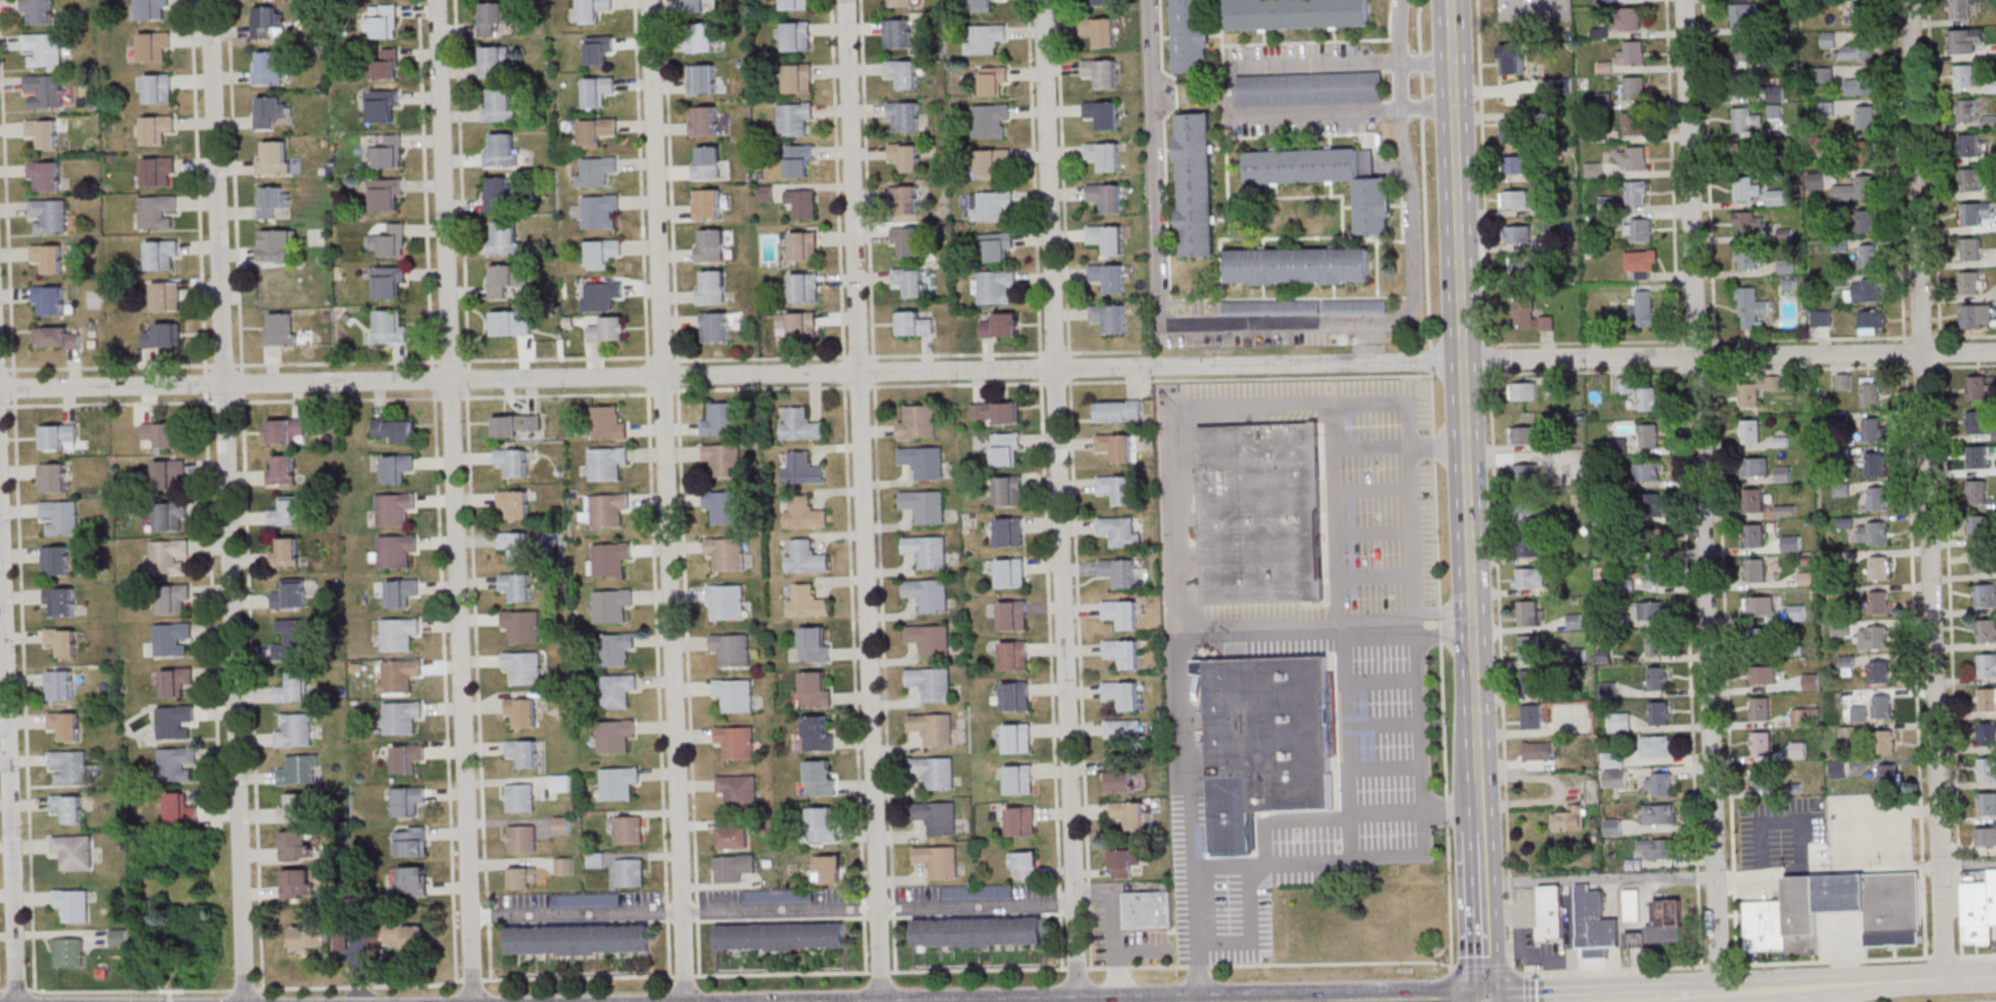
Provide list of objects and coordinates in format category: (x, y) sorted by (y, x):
building: (1103, 2)
building: (902, 3)
building: (795, 4)
building: (983, 5)
building: (696, 6)
building: (152, 9)
building: (1959, 9)
building: (593, 10)
building: (38, 11)
road: (1533, 11)
building: (1296, 13)
building: (1743, 14)
building: (1861, 14)
building: (493, 17)
building: (1630, 19)
building: (267, 22)
building: (382, 22)
road: (1402, 30)
building: (1099, 31)
building: (897, 33)
building: (1191, 35)
building: (797, 36)
building: (701, 37)
building: (985, 39)
building: (1965, 42)
building: (154, 46)
building: (43, 48)
building: (599, 49)
building: (1745, 49)
building: (1859, 51)
building: (1632, 53)
building: (1513, 59)
building: (494, 60)
road: (1426, 61)
building: (385, 64)
building: (269, 67)
building: (1101, 72)
building: (903, 73)
building: (1823, 76)
building: (1964, 77)
building: (702, 78)
building: (798, 78)
building: (990, 81)
road: (1402, 84)
building: (1746, 84)
building: (1861, 85)
building: (158, 88)
road: (1229, 88)
building: (1310, 88)
building: (1634, 89)
building: (44, 91)
building: (598, 91)
road: (1427, 104)
building: (500, 105)
building: (382, 106)
building: (1967, 111)
building: (271, 112)
building: (1102, 114)
building: (902, 116)
building: (1865, 118)
building: (794, 119)
building: (1747, 119)
building: (704, 120)
building: (991, 120)
building: (1634, 123)
building: (156, 128)
building: (1509, 131)
building: (43, 132)
building: (596, 132)
building: (1970, 145)
building: (501, 149)
building: (387, 152)
building: (1746, 152)
building: (1867, 153)
building: (1104, 155)
building: (905, 156)
building: (274, 158)
building: (1633, 158)
building: (799, 160)
building: (708, 162)
building: (991, 162)
building: (1519, 164)
building: (1594, 169)
road: (1483, 170)
building: (159, 171)
building: (596, 171)
building: (45, 175)
building: (1330, 178)
building: (1975, 178)
building: (1817, 181)
building: (1197, 184)
building: (1857, 189)
building: (1747, 190)
building: (1637, 192)
building: (499, 193)
building: (384, 194)
building: (1106, 197)
building: (1515, 199)
building: (1780, 199)
building: (272, 200)
building: (903, 200)
building: (707, 203)
building: (801, 203)
building: (990, 205)
building: (599, 211)
building: (157, 212)
building: (1975, 212)
building: (1834, 213)
building: (48, 215)
building: (1866, 222)
building: (1749, 224)
building: (1639, 230)
building: (1517, 235)
building: (504, 237)
building: (1106, 239)
building: (389, 241)
building: (905, 241)
building: (276, 245)
building: (709, 245)
building: (997, 245)
building: (803, 246)
building: (1840, 246)
building: (1970, 249)
building: (602, 253)
building: (162, 255)
building: (1869, 256)
building: (49, 257)
building: (1746, 260)
building: (1642, 262)
building: (1298, 265)
building: (1520, 265)
building: (1786, 267)
building: (1108, 277)
building: (504, 279)
building: (909, 281)
building: (388, 282)
building: (1970, 283)
building: (996, 286)
building: (711, 287)
building: (804, 287)
building: (1865, 291)
building: (600, 295)
building: (166, 296)
building: (48, 300)
building: (1204, 307)
building: (1356, 307)
building: (1643, 307)
building: (1271, 308)
building: (1751, 309)
building: (1528, 313)
building: (1977, 316)
building: (1109, 317)
building: (1822, 317)
building: (1871, 319)
building: (914, 322)
building: (508, 324)
building: (798, 324)
building: (1001, 325)
building: (389, 326)
building: (714, 326)
road: (1227, 327)
building: (281, 329)
building: (608, 329)
building: (162, 335)
building: (57, 337)
road: (1742, 340)
road: (1489, 354)
road: (1730, 355)
road: (1743, 369)
road: (732, 374)
building: (1843, 381)
road: (1465, 389)
building: (1977, 389)
building: (1524, 391)
building: (1757, 391)
building: (1870, 391)
building: (1640, 393)
building: (1118, 411)
road: (205, 412)
building: (995, 412)
building: (721, 419)
building: (917, 422)
building: (608, 423)
building: (1977, 423)
building: (801, 424)
building: (516, 425)
building: (1870, 429)
building: (284, 430)
building: (393, 430)
building: (1750, 431)
building: (162, 434)
building: (1524, 435)
building: (56, 436)
building: (1648, 436)
building: (1115, 447)
building: (1006, 449)
building: (1976, 457)
building: (723, 458)
building: (512, 461)
building: (922, 461)
building: (606, 462)
building: (1875, 463)
building: (1755, 466)
building: (396, 467)
building: (803, 468)
building: (282, 470)
building: (1526, 472)
building: (168, 473)
building: (1646, 473)
building: (53, 477)
building: (1115, 488)
road: (1371, 488)
road: (470, 489)
road: (437, 490)
building: (1009, 490)
road: (1927, 490)
building: (1977, 492)
road: (245, 493)
road: (17, 495)
road: (1702, 495)
building: (1877, 498)
road: (226, 500)
building: (1752, 500)
road: (454, 501)
road: (668, 501)
road: (863, 501)
road: (1060, 501)
road: (1435, 501)
building: (514, 502)
building: (1648, 503)
building: (724, 506)
building: (924, 506)
building: (394, 509)
building: (608, 509)
building: (1528, 511)
building: (286, 512)
building: (1261, 512)
building: (804, 513)
building: (60, 516)
building: (171, 516)
building: (1978, 527)
building: (1009, 531)
building: (1119, 532)
road: (1373, 533)
building: (1872, 533)
building: (1753, 536)
road: (1181, 538)
building: (1652, 538)
building: (1791, 543)
building: (515, 544)
building: (1531, 548)
building: (394, 550)
building: (926, 551)
building: (285, 552)
building: (726, 552)
building: (169, 556)
building: (805, 557)
building: (608, 558)
building: (55, 560)
building: (1980, 562)
building: (1879, 568)
building: (1755, 570)
building: (1119, 572)
building: (1011, 573)
building: (1654, 574)
road: (1375, 576)
building: (1530, 577)
building: (516, 586)
building: (400, 592)
building: (290, 594)
building: (927, 594)
building: (1984, 596)
building: (173, 598)
building: (726, 601)
building: (807, 601)
building: (59, 602)
building: (1879, 602)
building: (612, 604)
building: (1759, 606)
building: (1652, 611)
building: (1796, 612)
building: (1121, 613)
building: (1528, 613)
building: (1012, 615)
building: (521, 625)
road: (1443, 625)
road: (1299, 628)
road: (1341, 631)
building: (1986, 631)
building: (398, 633)
building: (1760, 638)
building: (1873, 638)
building: (172, 639)
building: (293, 639)
building: (928, 639)
building: (61, 641)
building: (1655, 643)
building: (814, 644)
building: (1529, 647)
building: (616, 648)
building: (732, 649)
building: (1123, 653)
building: (1014, 655)
building: (1987, 665)
building: (523, 666)
building: (1879, 672)
building: (398, 675)
building: (1763, 675)
building: (1658, 678)
road: (1380, 680)
building: (175, 681)
building: (1531, 682)
building: (1810, 682)
building: (930, 683)
building: (60, 684)
building: (293, 688)
building: (815, 688)
road: (1501, 688)
building: (618, 690)
building: (735, 694)
building: (1122, 695)
building: (1015, 696)
building: (1987, 699)
building: (1882, 706)
building: (1759, 709)
building: (521, 711)
building: (1659, 713)
building: (1532, 716)
building: (401, 717)
building: (1805, 717)
building: (174, 721)
building: (1619, 723)
road: (1382, 724)
building: (65, 725)
building: (931, 728)
building: (294, 729)
building: (1124, 731)
building: (818, 733)
building: (1986, 733)
building: (614, 736)
building: (1017, 738)
building: (735, 741)
building: (1886, 741)
building: (1268, 743)
building: (1761, 744)
building: (1656, 746)
building: (1537, 751)
building: (522, 752)
building: (406, 757)
road: (8, 762)
building: (176, 764)
building: (69, 766)
road: (1383, 768)
road: (1421, 769)
building: (299, 770)
building: (1986, 770)
building: (936, 772)
building: (1119, 775)
building: (1886, 775)
building: (820, 777)
building: (1762, 777)
building: (1019, 779)
building: (560, 782)
building: (618, 783)
building: (1660, 784)
building: (738, 791)
building: (519, 797)
building: (407, 800)
road: (1479, 803)
road: (1451, 804)
building: (1987, 804)
building: (68, 807)
building: (180, 808)
building: (294, 808)
building: (1659, 814)
building: (1131, 815)
building: (934, 816)
road: (1320, 816)
building: (1569, 819)
road: (1902, 819)
building: (1021, 820)
building: (822, 824)
building: (562, 825)
building: (628, 830)
building: (731, 837)
building: (1985, 837)
building: (522, 838)
building: (409, 841)
building: (295, 845)
building: (1658, 848)
building: (73, 851)
building: (1816, 852)
building: (937, 861)
road: (1221, 861)
building: (1123, 862)
road: (1969, 862)
building: (1024, 864)
building: (564, 865)
building: (733, 867)
building: (828, 868)
road: (1829, 871)
building: (630, 872)
building: (523, 878)
road: (1600, 880)
building: (411, 881)
building: (297, 883)
building: (978, 892)
building: (1844, 894)
building: (778, 896)
building: (586, 900)
building: (73, 904)
building: (1632, 905)
road: (879, 906)
building: (1804, 906)
building: (1979, 906)
building: (1149, 910)
building: (1896, 911)
road: (578, 912)
road: (1485, 914)
building: (1553, 914)
building: (1593, 920)
road: (1114, 927)
building: (1767, 927)
building: (1660, 928)
building: (978, 932)
building: (118, 936)
building: (310, 936)
building: (781, 936)
building: (398, 937)
building: (340, 939)
building: (579, 939)
building: (68, 951)
road: (1761, 963)
road: (1031, 968)
road: (1484, 968)
road: (1897, 983)
road: (304, 987)
road: (1742, 989)
road: (1849, 993)
road: (1798, 994)
road: (1630, 1000)
road: (1990, 1001)

